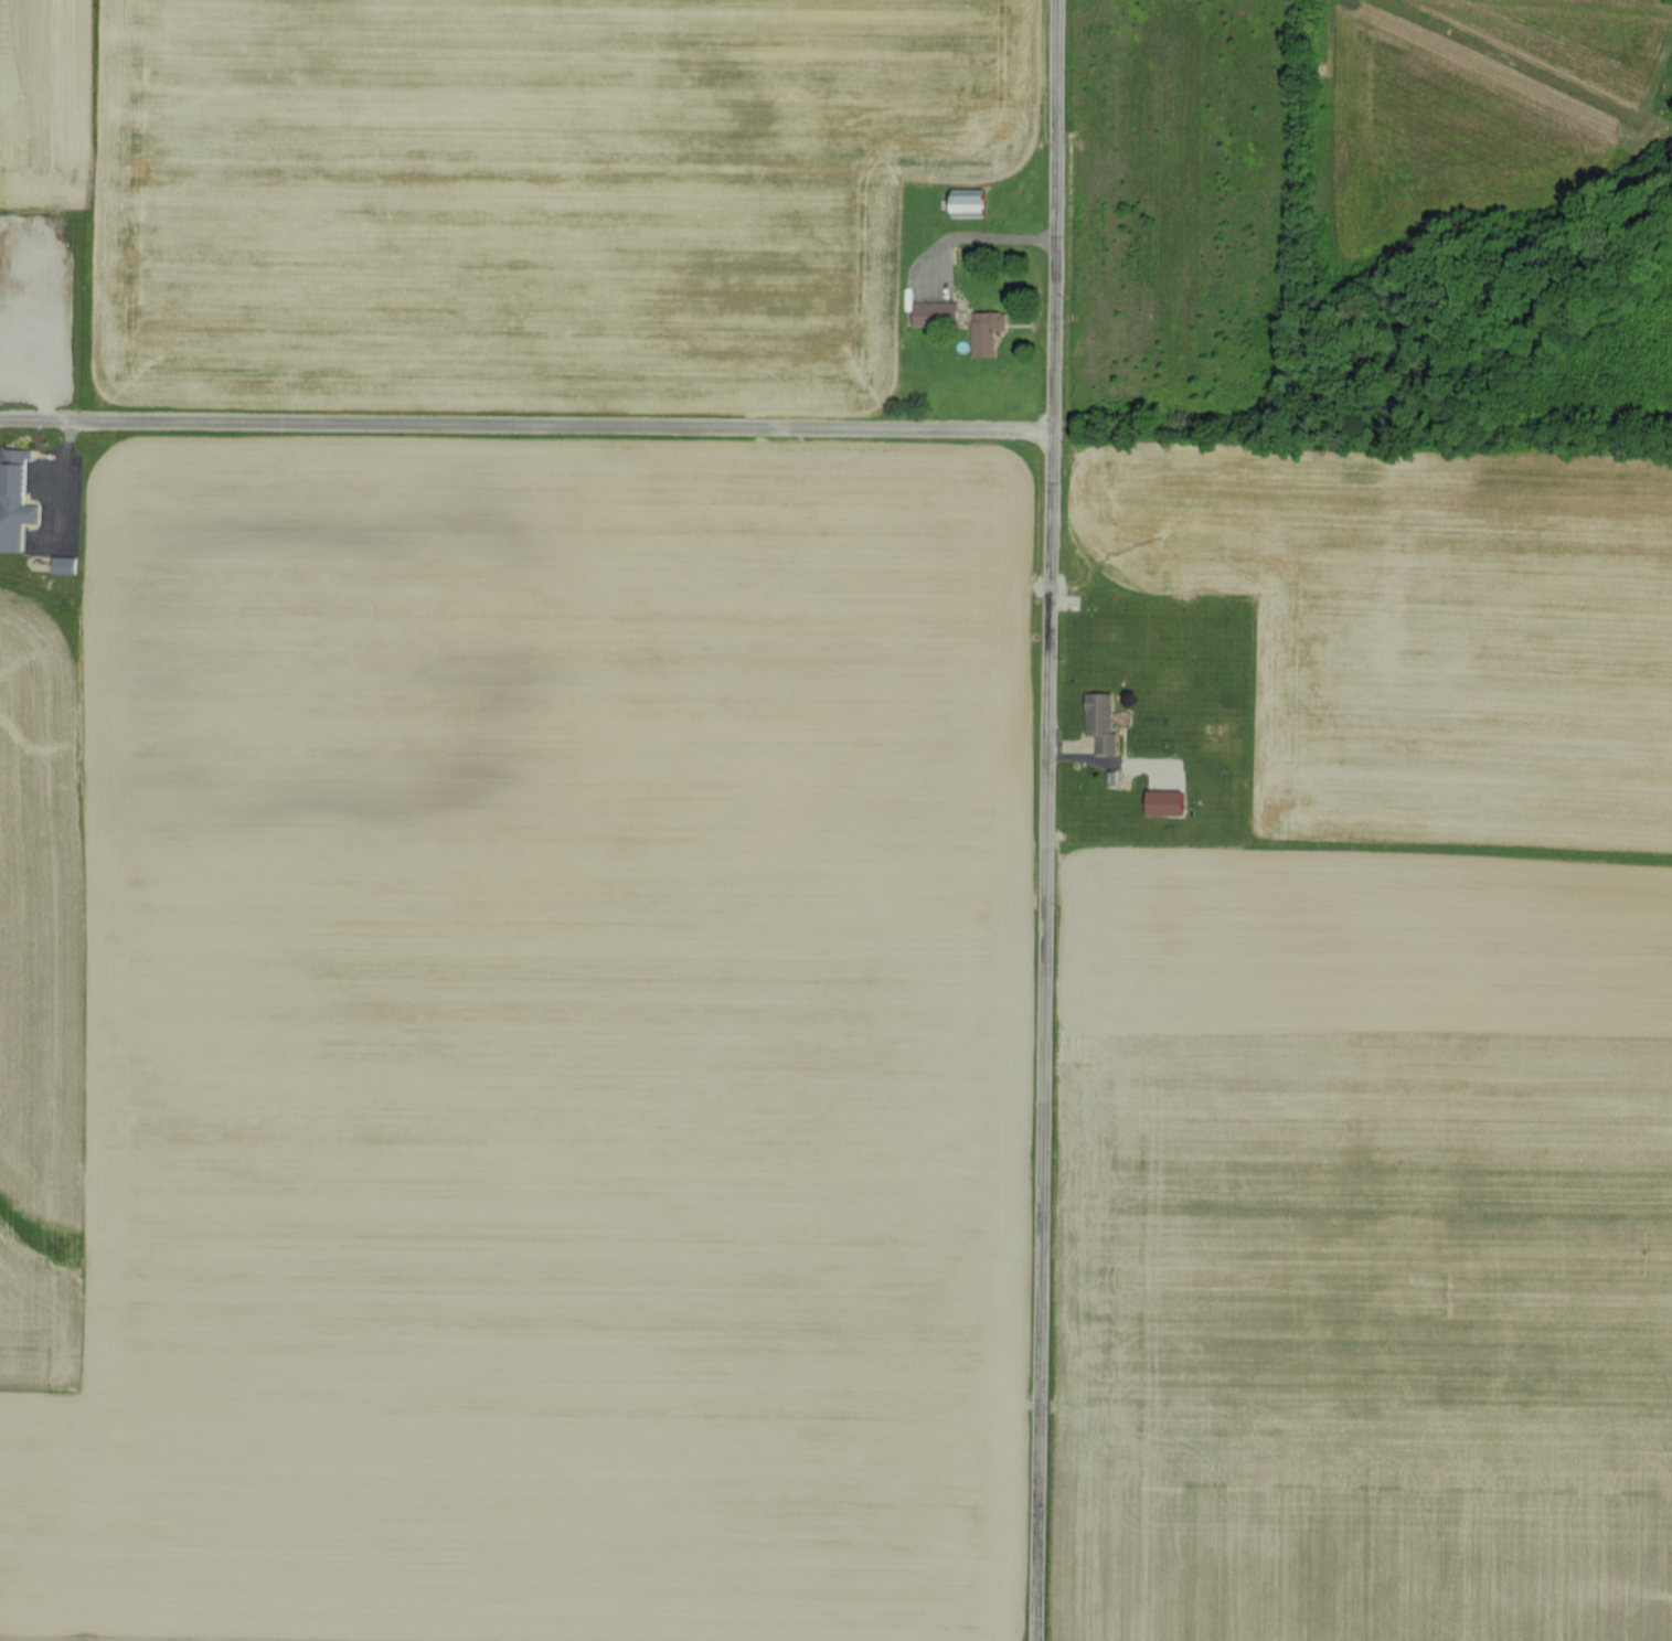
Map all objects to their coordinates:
building: (967, 201)
building: (986, 330)
road: (529, 425)
building: (18, 492)
building: (1164, 800)
road: (1050, 820)

